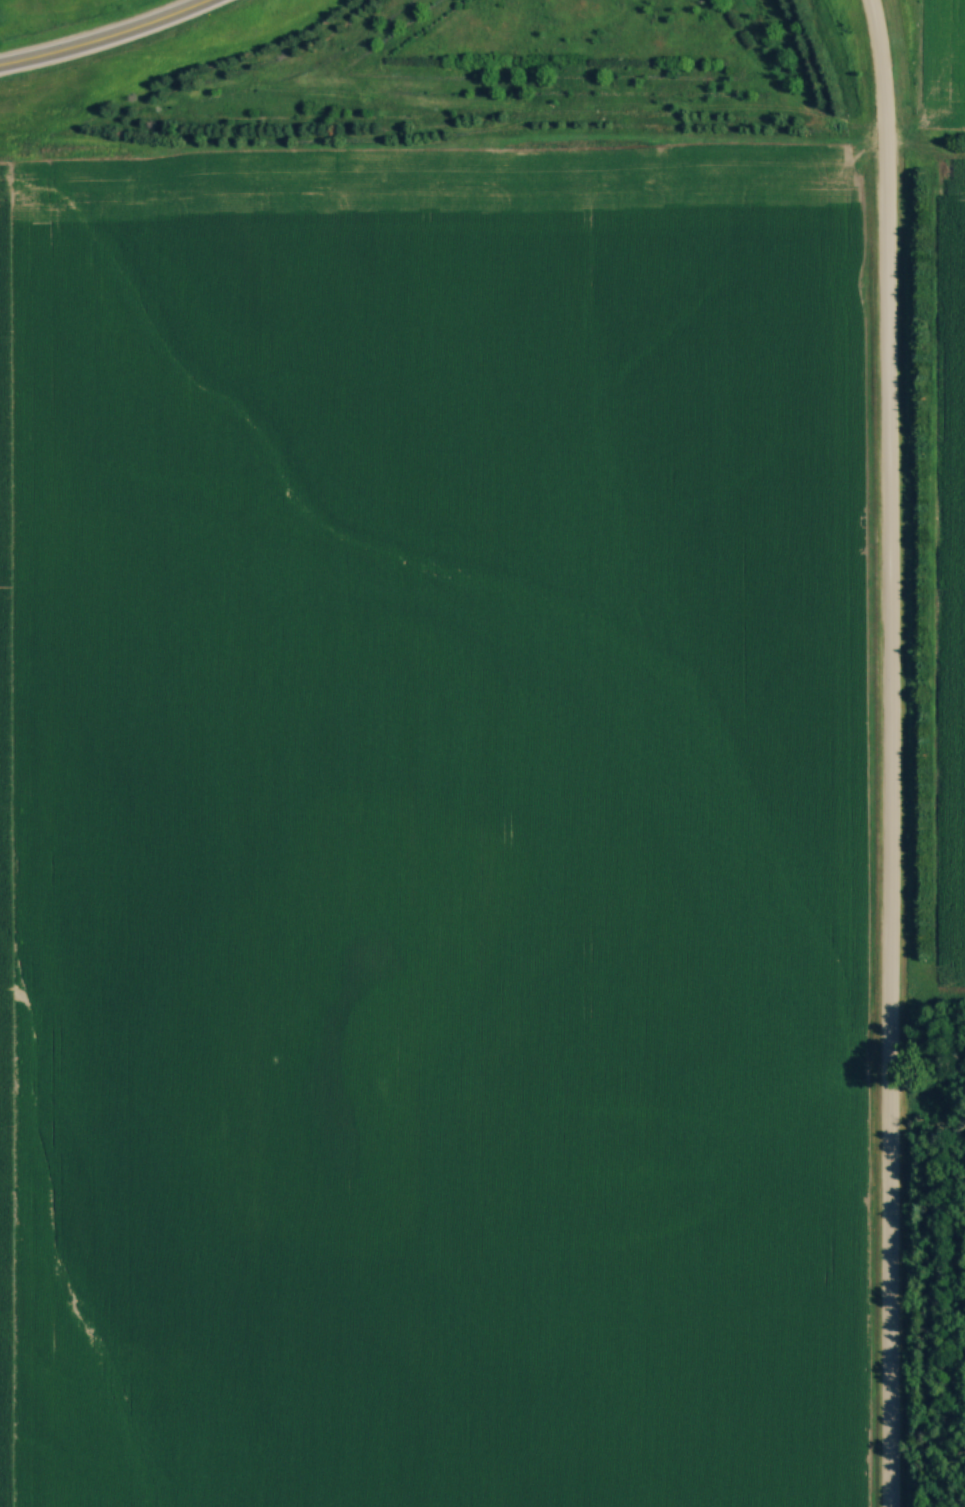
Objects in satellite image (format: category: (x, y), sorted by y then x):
road: (115, 39)
road: (885, 752)

